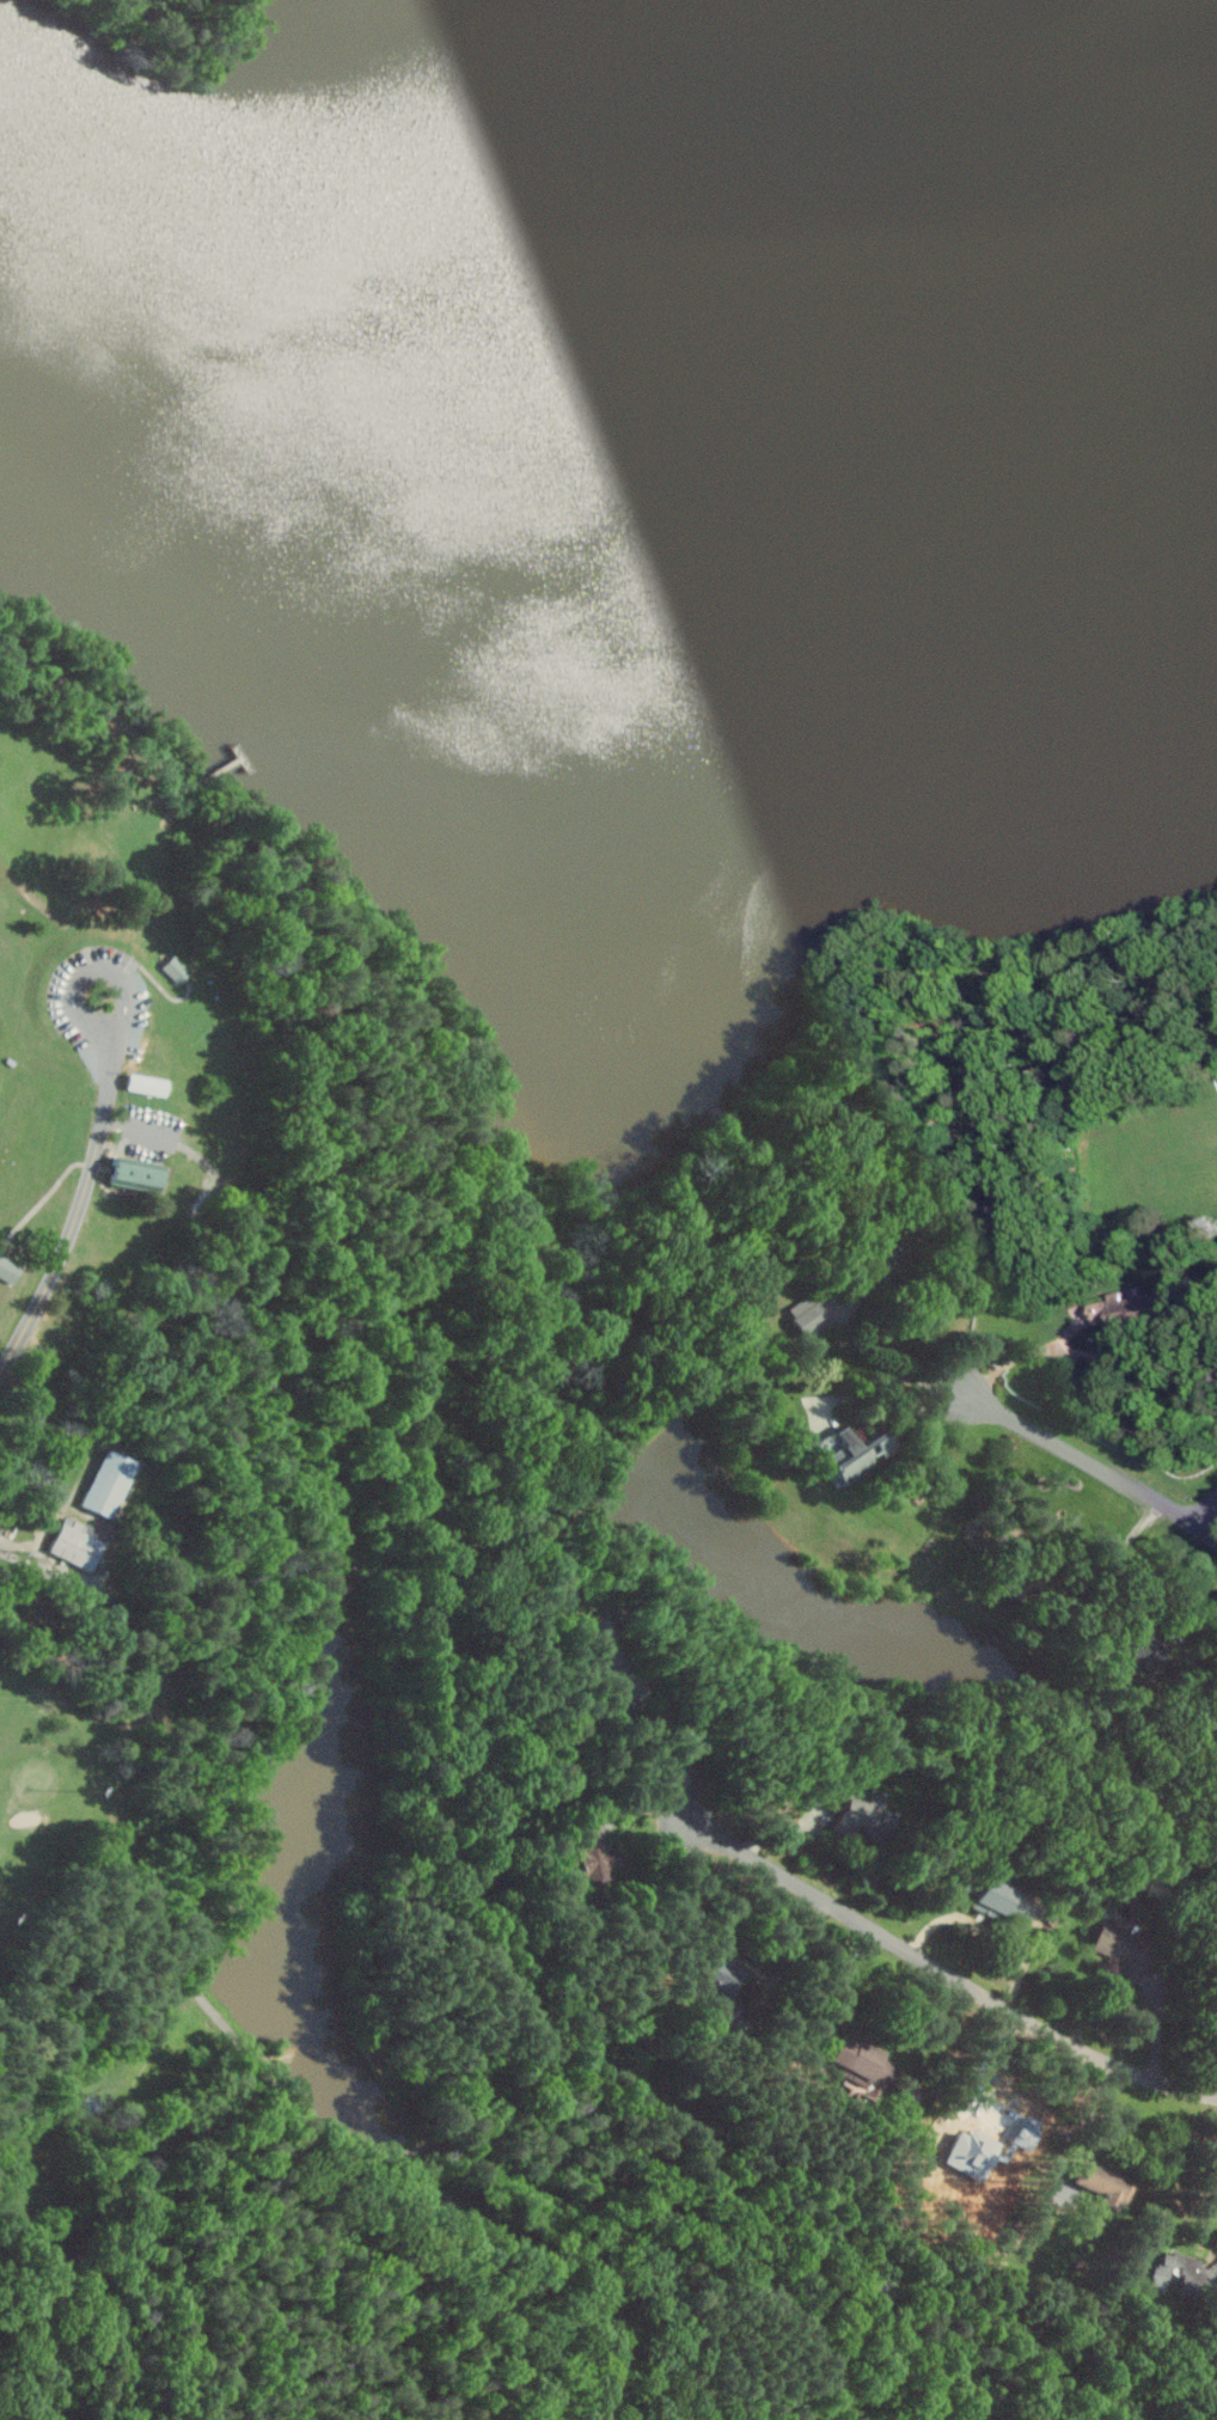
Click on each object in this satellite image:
road: (153, 752)
building: (181, 970)
road: (98, 971)
parking lot: (60, 991)
road: (299, 1067)
building: (147, 1083)
road: (143, 1131)
parking lot: (149, 1133)
building: (132, 1172)
road: (233, 1200)
road: (79, 1215)
road: (658, 1242)
road: (288, 1254)
building: (10, 1269)
building: (809, 1313)
road: (1023, 1355)
road: (879, 1365)
building: (855, 1450)
park: (191, 1457)
road: (1091, 1467)
building: (108, 1483)
road: (1204, 1512)
building: (78, 1541)
road: (1119, 1554)
road: (47, 1569)
road: (1195, 1650)
building: (1149, 1654)
building: (610, 1662)
road: (677, 1741)
park: (43, 1789)
building: (864, 1815)
building: (999, 1899)
road: (888, 1938)
building: (1125, 1950)
road: (788, 1958)
building: (724, 1974)
road: (846, 1980)
building: (861, 2060)
road: (1151, 2078)
road: (301, 2107)
road: (1090, 2119)
building: (1103, 2181)
building: (1166, 2271)
road: (1115, 2408)

